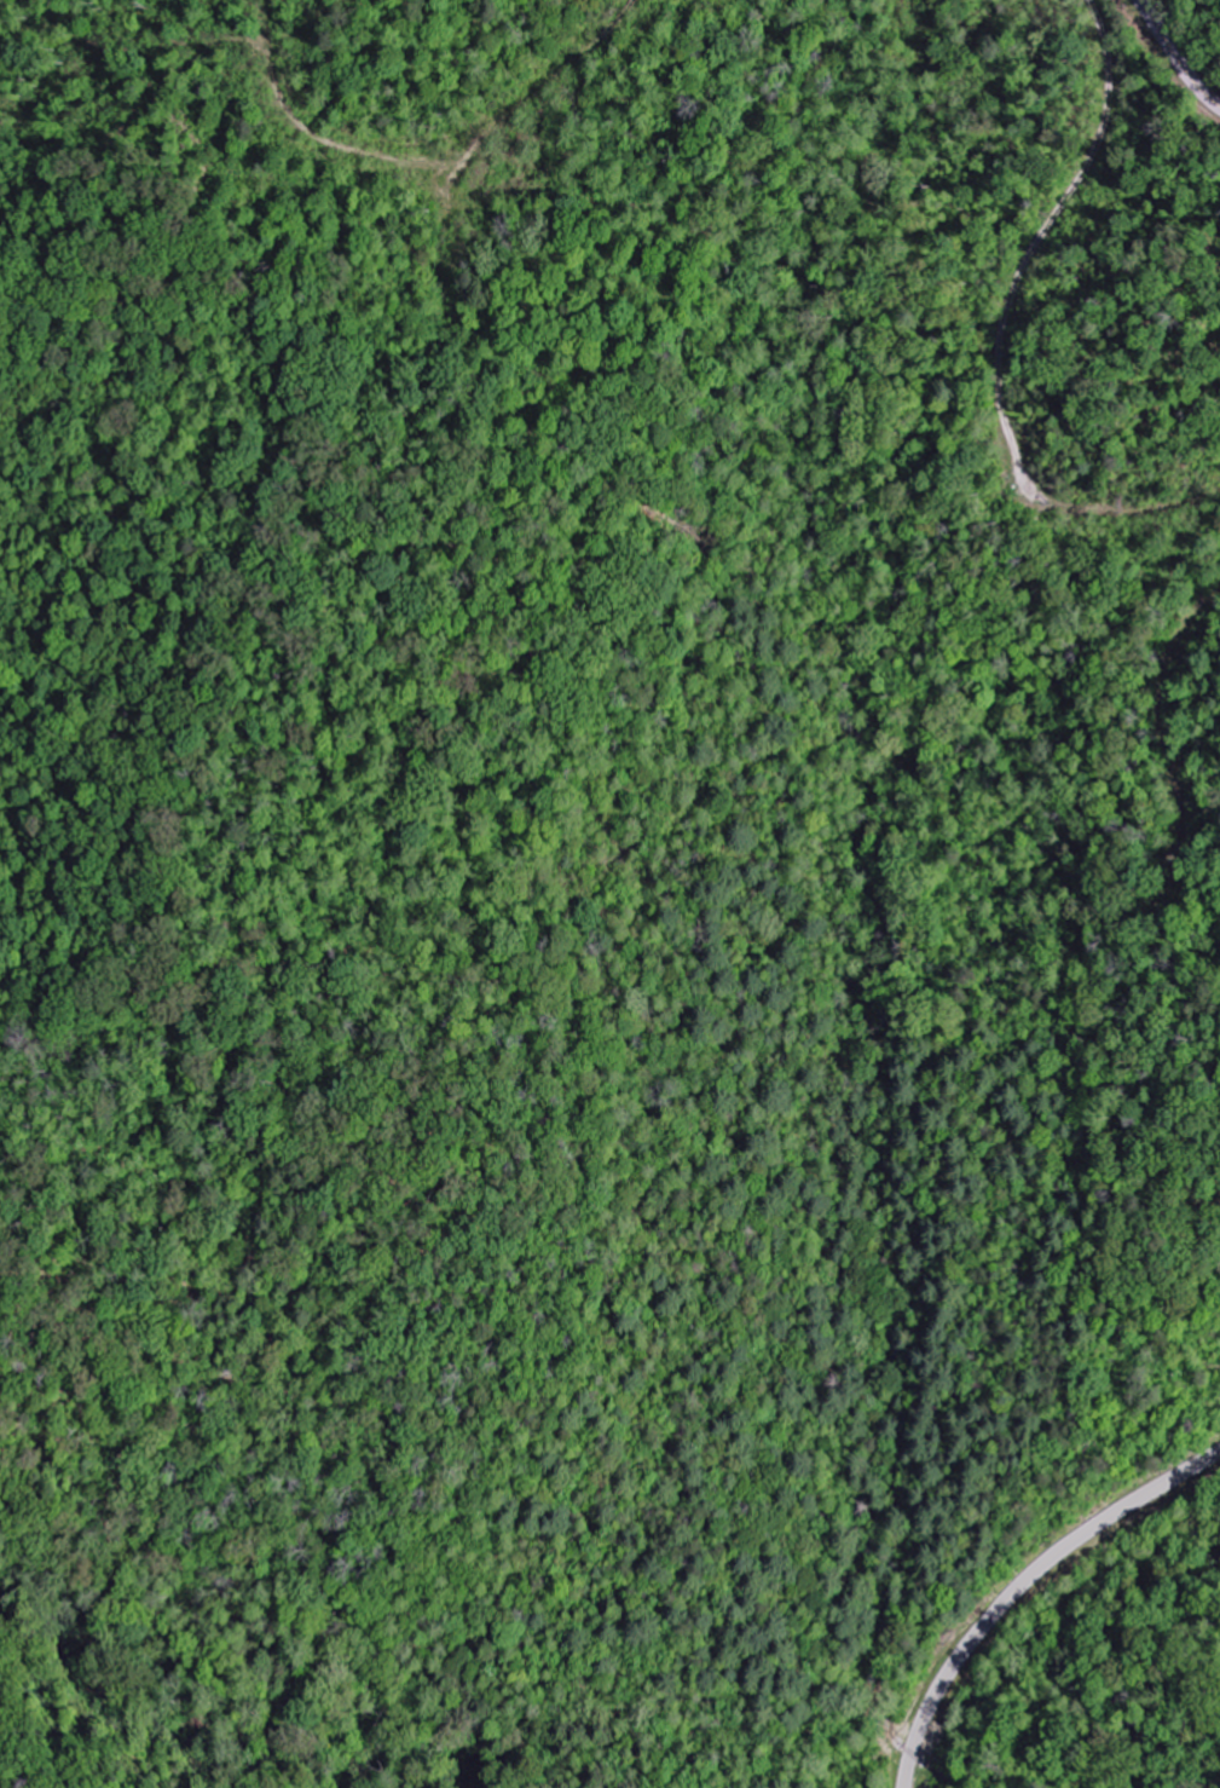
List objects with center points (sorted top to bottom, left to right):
road: (1176, 56)
road: (1022, 1585)

